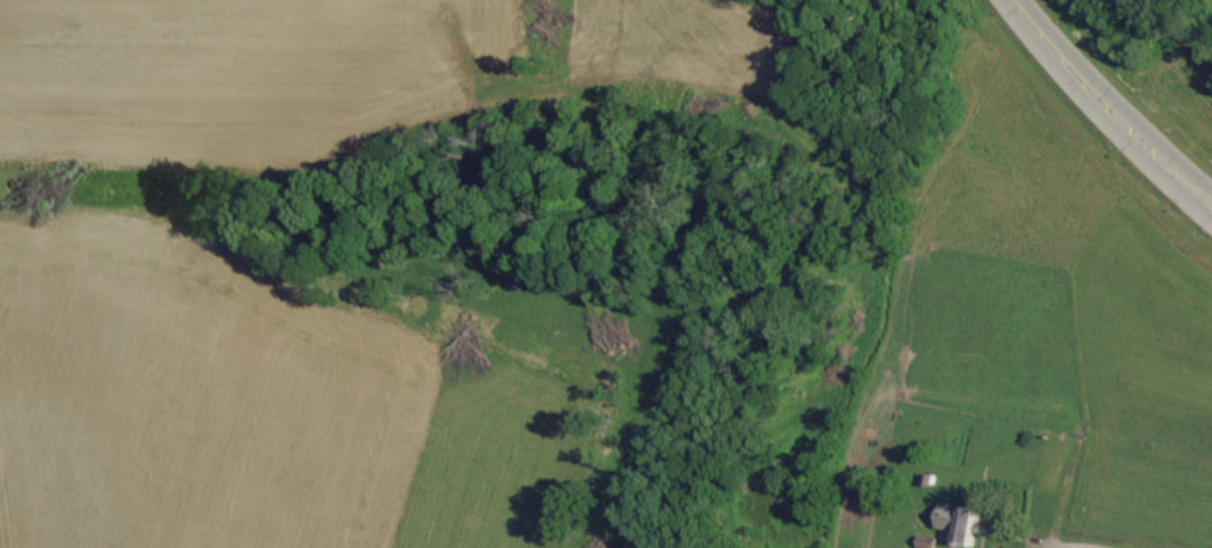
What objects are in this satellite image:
road: (1108, 106)
building: (957, 523)
road: (1074, 544)

